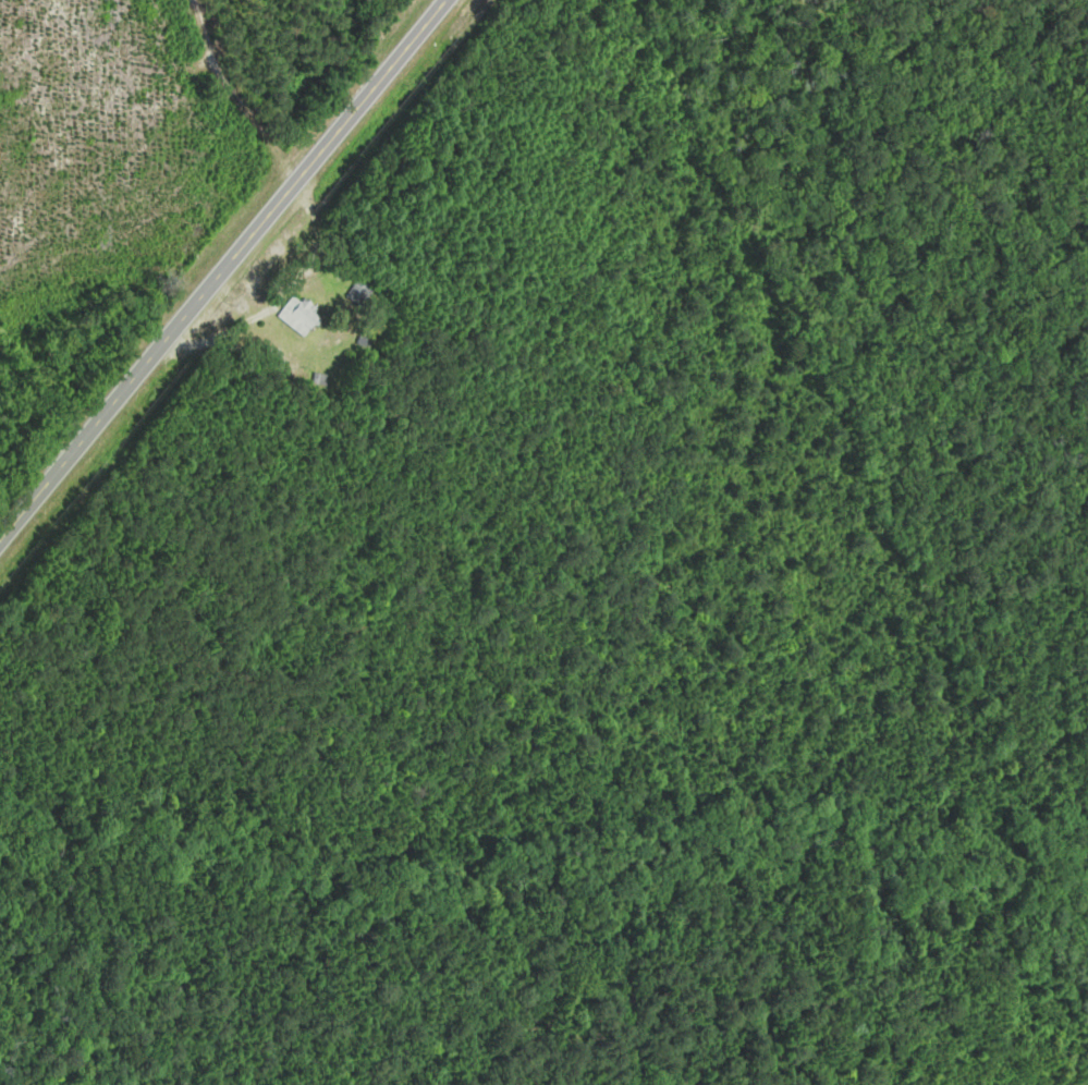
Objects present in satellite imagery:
road: (222, 269)
building: (301, 316)

